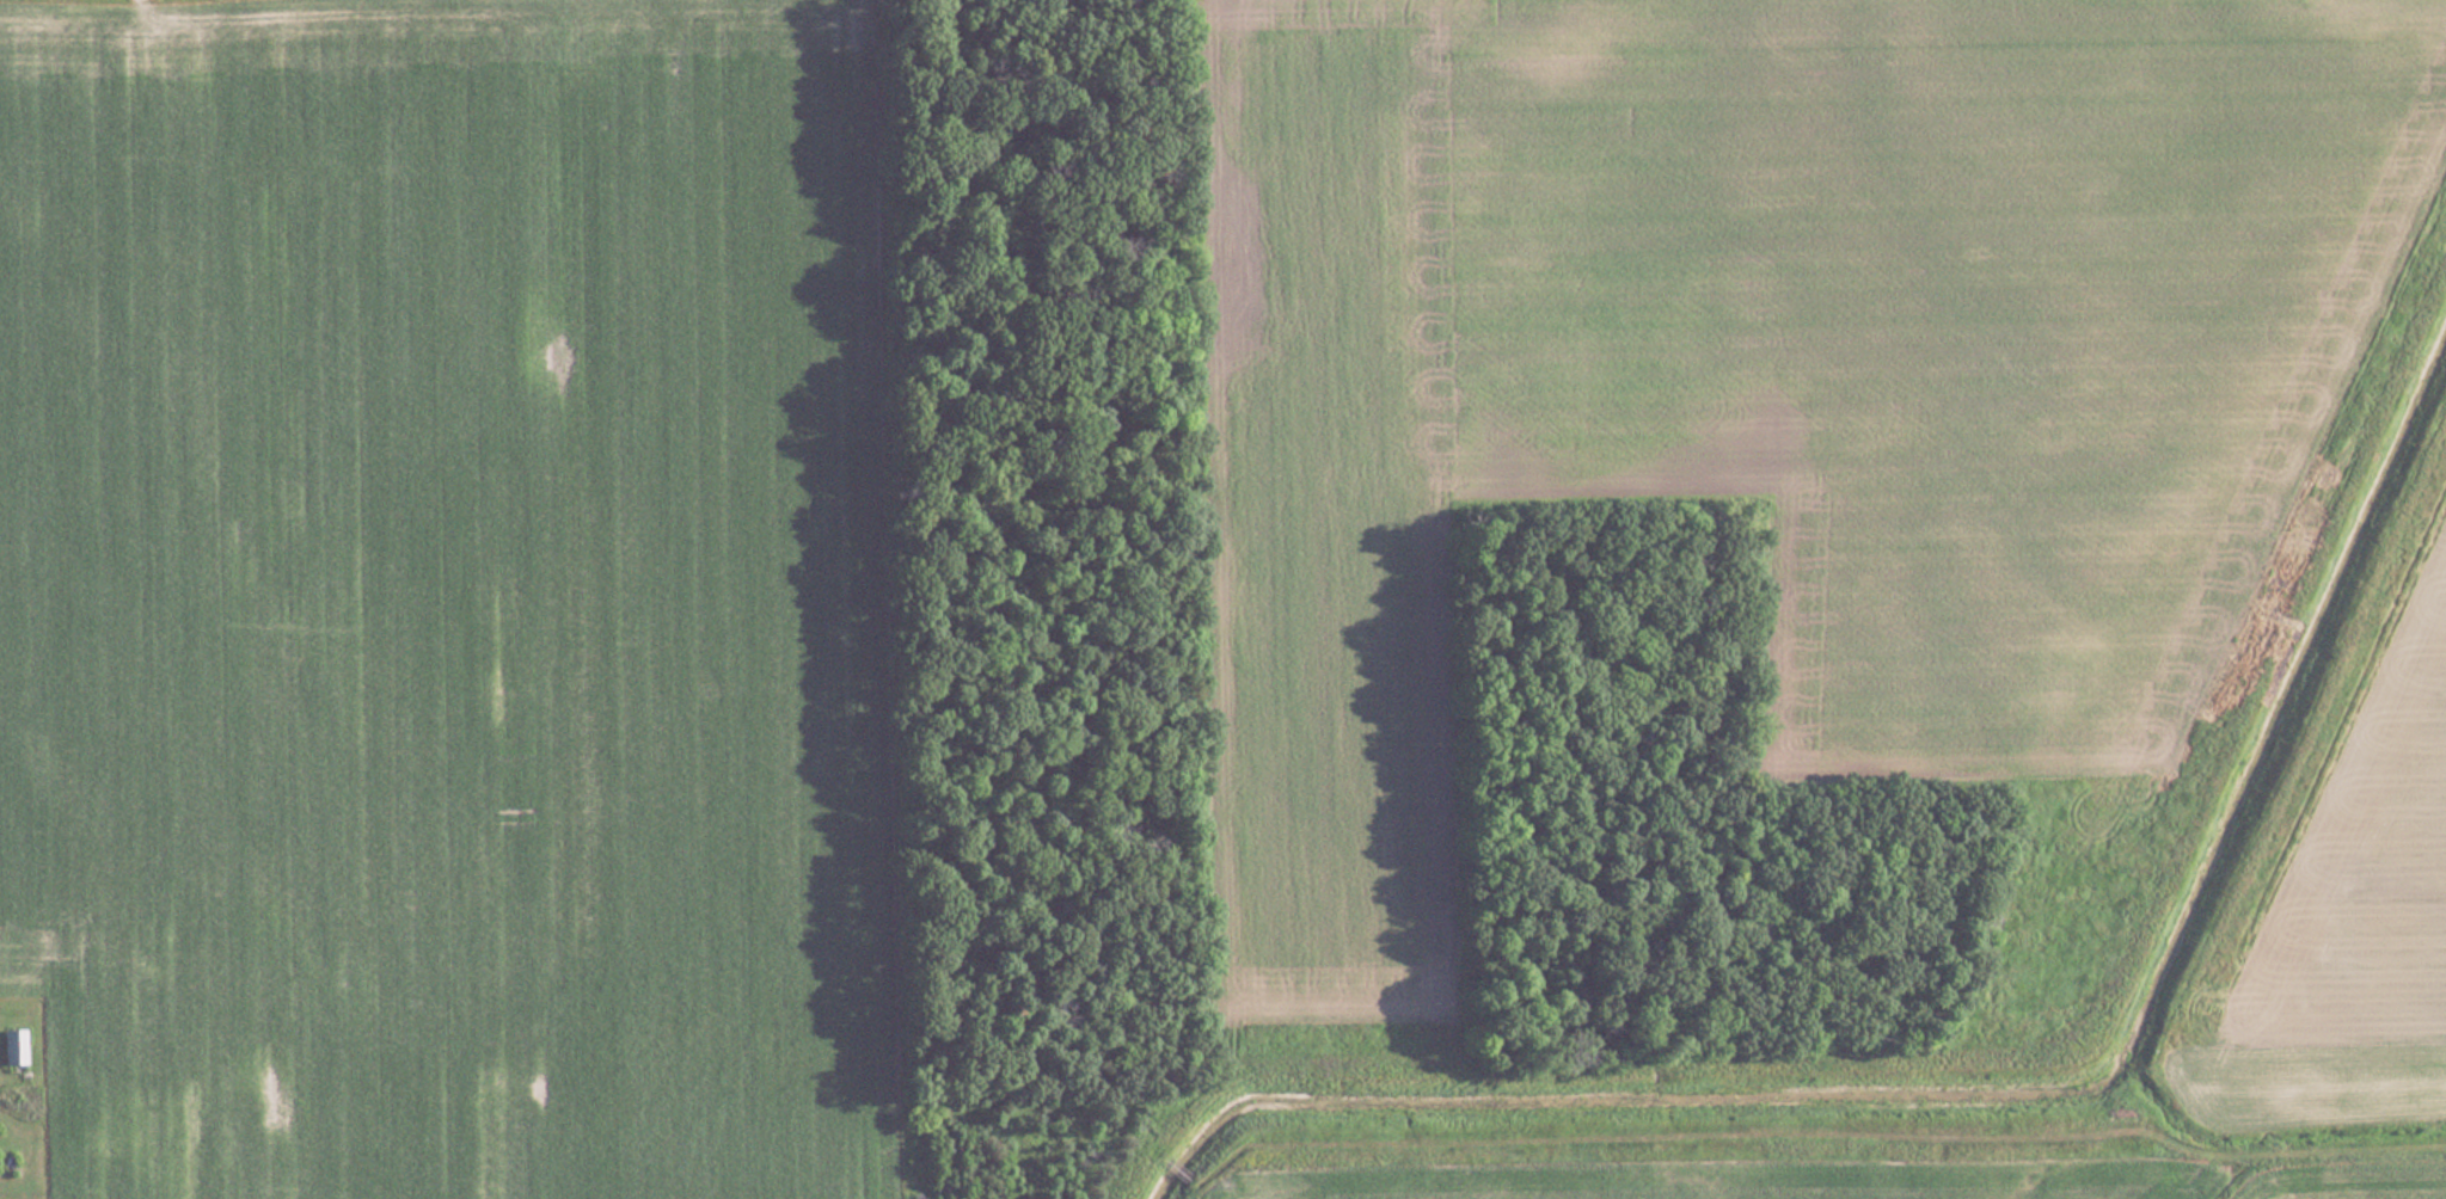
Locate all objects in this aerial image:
building: (14, 1046)

